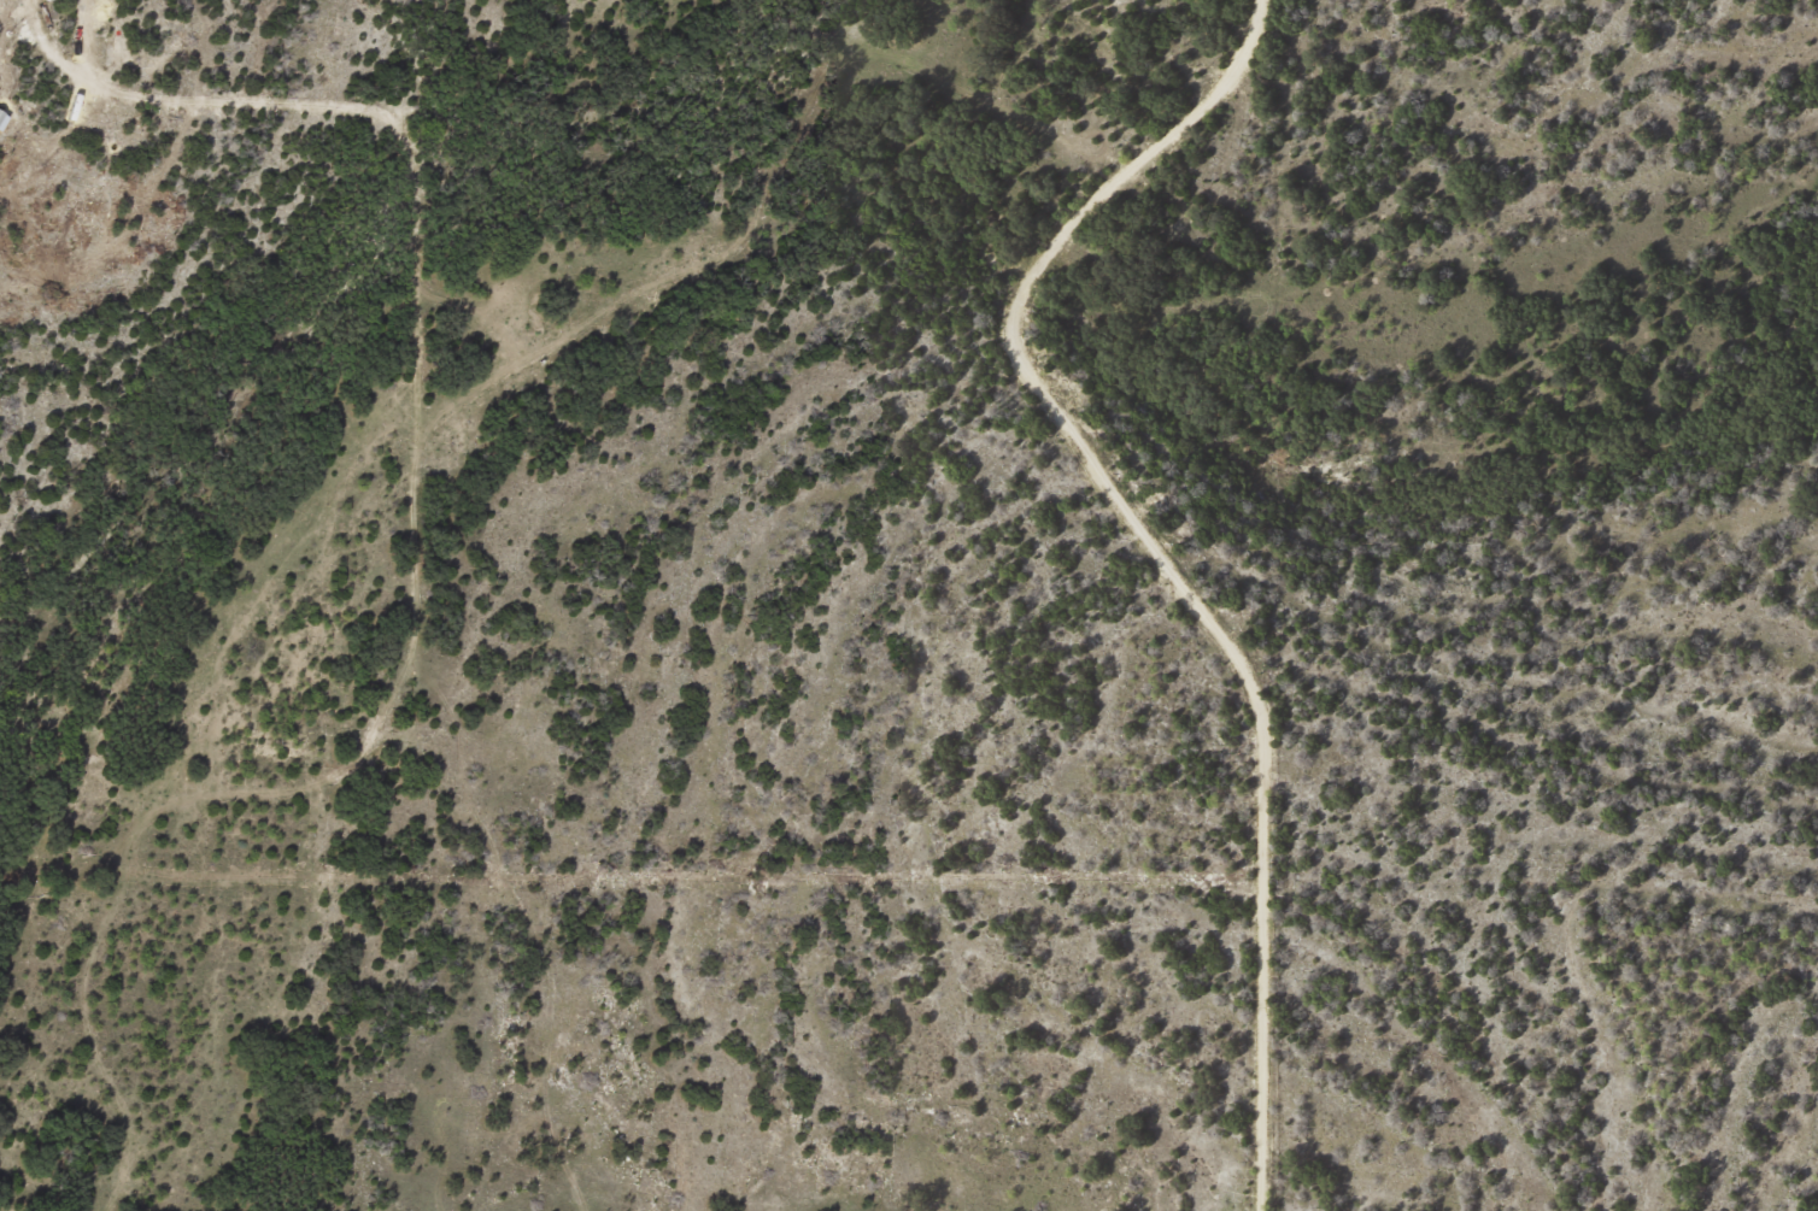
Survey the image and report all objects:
road: (1132, 557)

